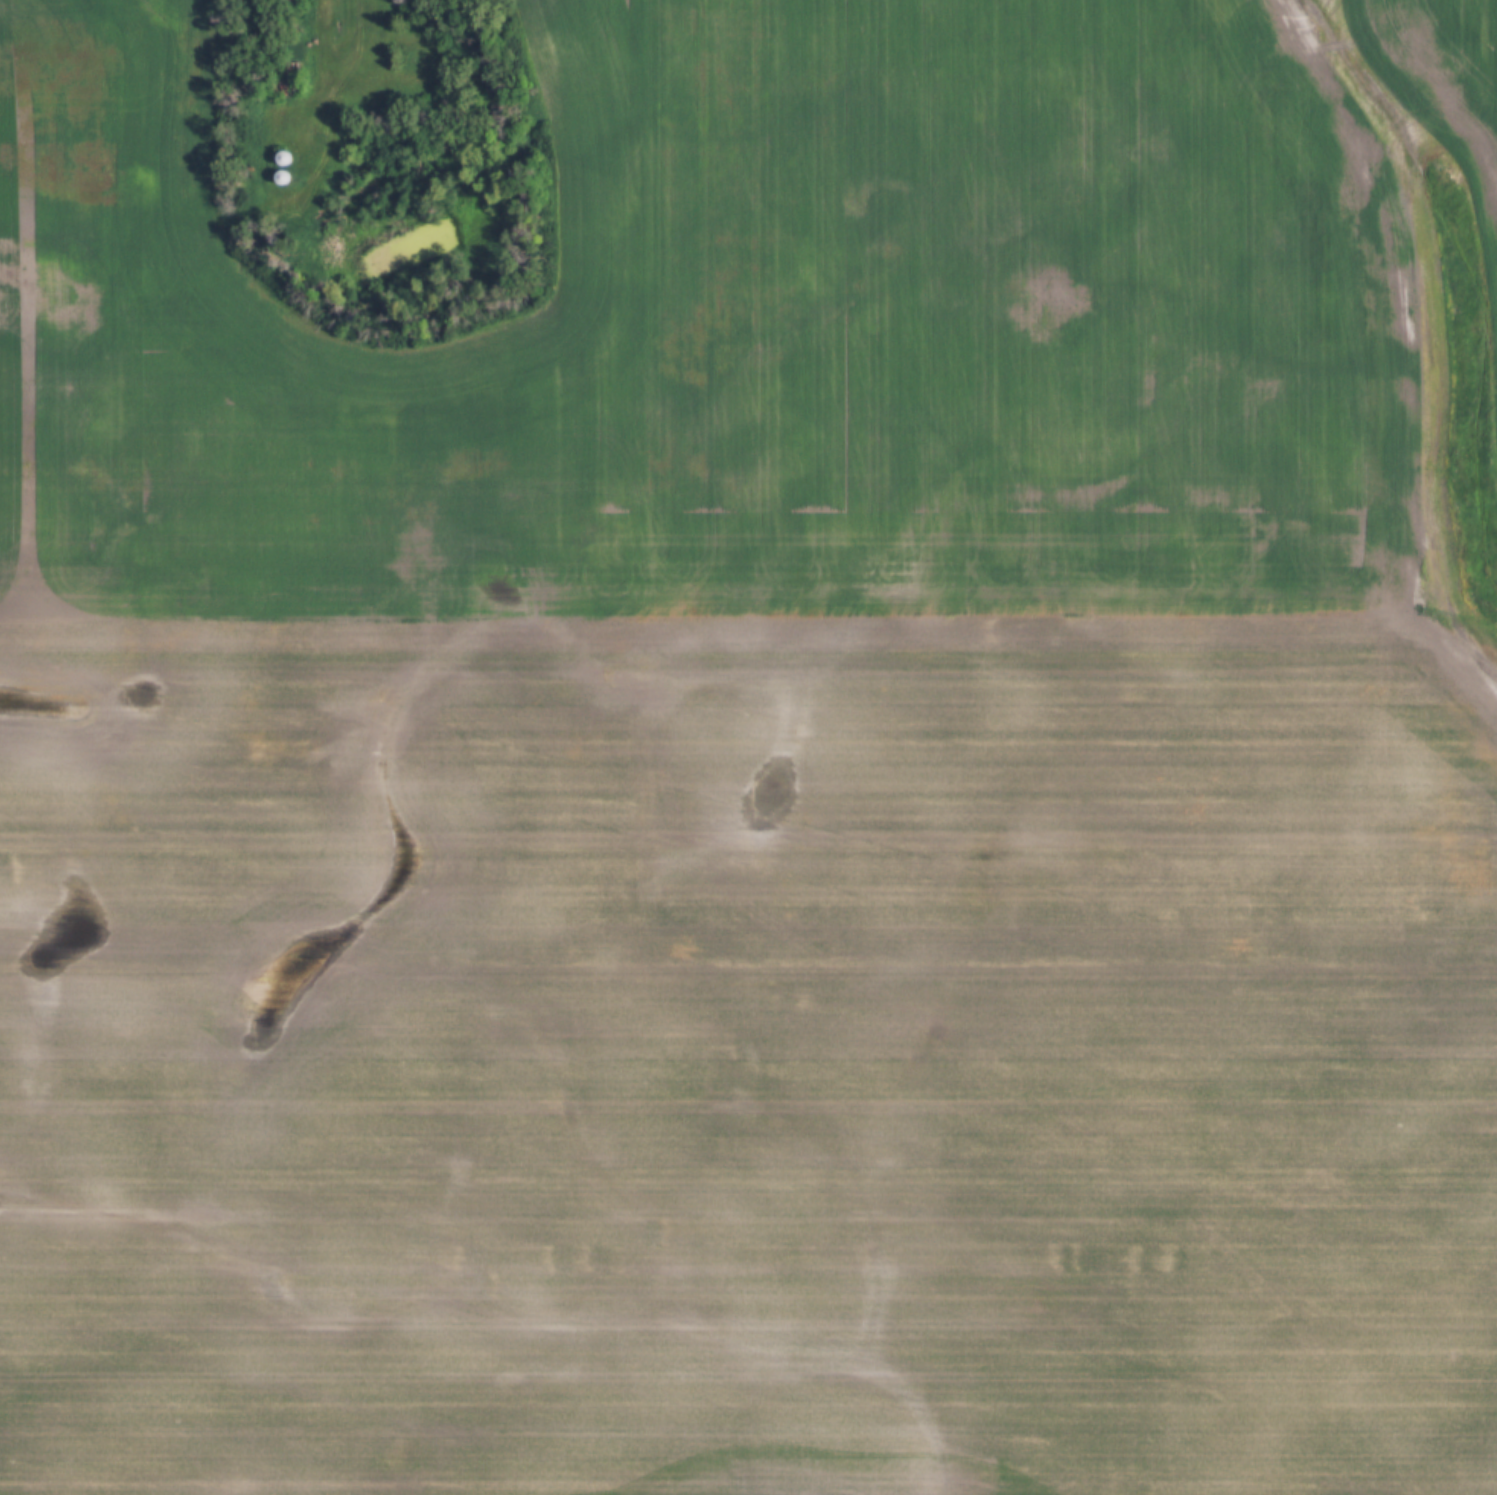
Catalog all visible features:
road: (353, 34)
building: (279, 79)
building: (279, 158)
building: (278, 177)

